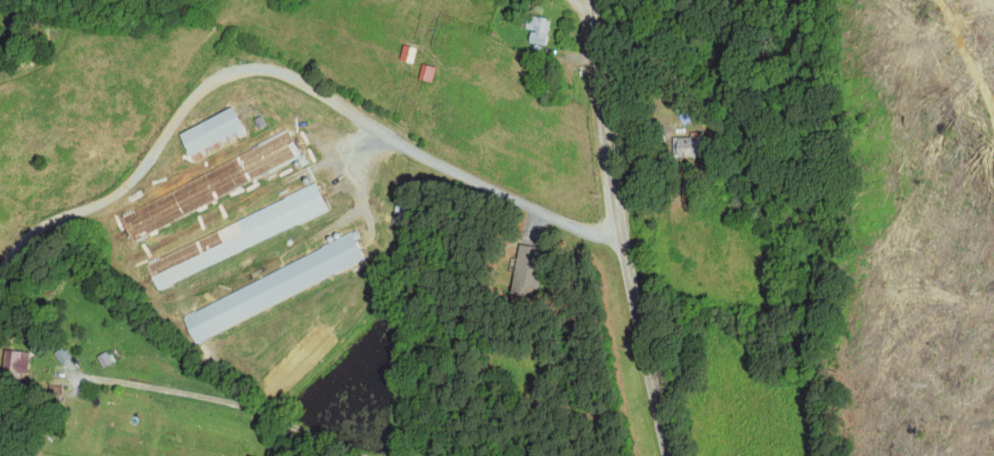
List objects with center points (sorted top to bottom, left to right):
building: (536, 29)
road: (292, 83)
building: (208, 130)
building: (679, 146)
building: (208, 186)
road: (621, 229)
building: (234, 236)
building: (523, 270)
building: (270, 287)
building: (14, 362)
building: (54, 393)
road: (201, 402)

